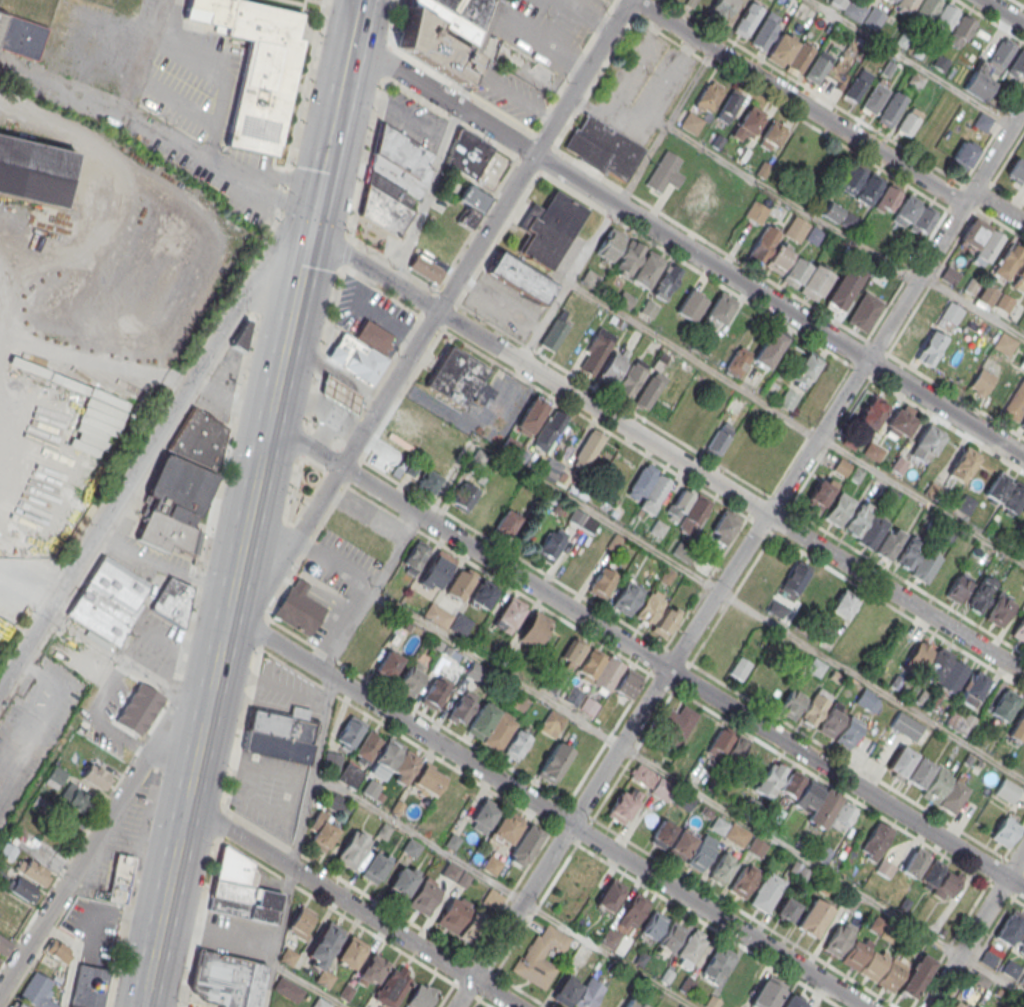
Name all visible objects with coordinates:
road: (1018, 3)
building: (907, 5)
building: (926, 9)
building: (720, 10)
building: (859, 12)
road: (1004, 12)
road: (590, 13)
building: (945, 19)
building: (747, 20)
road: (990, 20)
road: (356, 21)
building: (766, 30)
building: (961, 31)
building: (442, 33)
building: (20, 37)
road: (536, 38)
road: (487, 42)
building: (782, 48)
building: (505, 50)
building: (1001, 55)
building: (800, 59)
road: (909, 62)
building: (1017, 65)
building: (255, 66)
building: (818, 67)
road: (219, 68)
road: (581, 77)
building: (857, 85)
parking lot: (642, 87)
road: (466, 90)
building: (709, 96)
road: (514, 97)
road: (442, 98)
building: (874, 98)
building: (729, 106)
road: (116, 109)
building: (891, 109)
road: (196, 114)
road: (826, 119)
parking lot: (414, 120)
building: (908, 121)
building: (691, 122)
building: (982, 122)
road: (862, 123)
building: (749, 124)
building: (929, 133)
building: (772, 135)
building: (602, 147)
building: (467, 153)
building: (964, 154)
building: (1016, 170)
building: (33, 171)
building: (664, 172)
building: (851, 177)
building: (393, 180)
road: (906, 184)
building: (869, 189)
road: (116, 190)
building: (699, 195)
road: (428, 197)
building: (889, 197)
road: (791, 204)
building: (471, 205)
building: (833, 211)
building: (756, 212)
traffic signals: (315, 214)
building: (915, 215)
building: (549, 228)
building: (796, 229)
traffic signals: (311, 233)
building: (973, 234)
building: (763, 244)
building: (609, 245)
building: (989, 246)
building: (779, 257)
road: (946, 257)
building: (431, 258)
building: (628, 258)
building: (1009, 261)
building: (647, 270)
road: (374, 271)
traffic signals: (302, 273)
building: (950, 275)
building: (520, 278)
building: (806, 278)
building: (1019, 278)
building: (665, 282)
building: (843, 289)
building: (995, 298)
building: (624, 299)
road: (973, 304)
building: (691, 305)
road: (779, 305)
building: (648, 308)
building: (721, 309)
road: (438, 310)
building: (865, 311)
building: (951, 313)
road: (543, 321)
building: (554, 333)
road: (655, 334)
building: (240, 335)
building: (1005, 344)
building: (930, 347)
building: (361, 350)
building: (595, 352)
building: (757, 354)
building: (1022, 361)
road: (94, 362)
road: (319, 364)
building: (611, 369)
building: (806, 370)
building: (631, 378)
building: (459, 380)
building: (982, 382)
building: (651, 386)
building: (340, 395)
road: (342, 396)
road: (956, 396)
building: (788, 399)
building: (1015, 403)
road: (321, 407)
road: (337, 411)
building: (873, 411)
building: (531, 415)
building: (419, 416)
building: (901, 421)
building: (1022, 423)
building: (702, 428)
building: (549, 430)
road: (324, 432)
building: (719, 438)
building: (507, 444)
building: (926, 444)
road: (304, 445)
building: (587, 450)
building: (873, 451)
building: (963, 464)
road: (138, 465)
building: (898, 465)
building: (842, 466)
building: (1, 473)
building: (182, 482)
building: (428, 483)
building: (648, 489)
road: (730, 492)
building: (821, 492)
building: (1005, 492)
building: (16, 496)
building: (465, 497)
building: (965, 505)
building: (838, 509)
building: (688, 510)
building: (582, 520)
building: (507, 523)
road: (247, 524)
building: (865, 525)
building: (723, 528)
building: (889, 542)
building: (549, 547)
building: (909, 552)
road: (739, 555)
road: (283, 560)
building: (925, 565)
road: (162, 567)
road: (345, 569)
building: (436, 570)
road: (285, 577)
building: (941, 577)
building: (795, 579)
building: (602, 581)
building: (460, 584)
road: (709, 585)
road: (300, 586)
road: (27, 587)
building: (958, 587)
building: (980, 593)
building: (483, 594)
building: (627, 597)
building: (821, 598)
building: (108, 599)
building: (172, 601)
road: (326, 601)
building: (844, 604)
building: (298, 607)
building: (999, 610)
building: (509, 614)
building: (438, 615)
building: (657, 615)
building: (1019, 629)
building: (534, 630)
road: (347, 632)
road: (329, 639)
road: (457, 645)
building: (554, 645)
road: (701, 645)
building: (572, 654)
building: (927, 660)
building: (388, 665)
building: (815, 667)
building: (740, 668)
building: (609, 675)
building: (956, 677)
road: (150, 678)
building: (411, 678)
road: (682, 678)
building: (760, 678)
road: (271, 684)
building: (974, 688)
building: (435, 693)
building: (791, 703)
building: (1005, 704)
building: (816, 705)
road: (196, 707)
building: (460, 709)
building: (136, 711)
road: (76, 714)
building: (481, 721)
building: (960, 721)
building: (830, 722)
building: (552, 723)
building: (678, 725)
building: (906, 725)
building: (1017, 728)
building: (499, 732)
building: (349, 733)
building: (848, 733)
building: (279, 736)
building: (700, 736)
building: (516, 745)
building: (737, 749)
building: (386, 758)
building: (332, 761)
building: (901, 761)
building: (554, 762)
building: (920, 772)
building: (350, 775)
building: (94, 777)
building: (55, 778)
building: (772, 778)
building: (429, 781)
building: (651, 782)
building: (938, 783)
building: (1008, 790)
parking lot: (269, 792)
building: (955, 795)
building: (75, 798)
building: (811, 798)
building: (684, 801)
building: (622, 807)
road: (545, 810)
road: (375, 811)
building: (844, 815)
road: (107, 819)
building: (482, 819)
road: (302, 821)
building: (730, 831)
building: (1005, 831)
building: (504, 832)
building: (321, 833)
building: (662, 834)
building: (876, 840)
building: (525, 844)
building: (680, 846)
building: (756, 847)
building: (351, 849)
road: (790, 850)
building: (8, 851)
road: (39, 852)
building: (700, 856)
building: (916, 862)
building: (376, 864)
road: (666, 864)
road: (263, 865)
building: (491, 865)
building: (721, 867)
building: (33, 871)
building: (455, 874)
building: (118, 878)
building: (940, 878)
building: (403, 881)
building: (742, 881)
building: (22, 889)
building: (240, 889)
building: (766, 892)
building: (425, 896)
building: (608, 897)
building: (492, 899)
road: (350, 905)
building: (787, 909)
building: (633, 910)
building: (453, 913)
building: (813, 917)
building: (301, 922)
building: (7, 924)
building: (653, 925)
road: (708, 925)
building: (74, 926)
building: (1009, 927)
building: (475, 928)
road: (976, 929)
road: (219, 932)
parking lot: (236, 936)
building: (672, 936)
building: (839, 938)
building: (1020, 939)
building: (4, 945)
building: (323, 945)
building: (691, 947)
building: (57, 951)
building: (351, 952)
road: (609, 953)
building: (541, 955)
building: (854, 955)
road: (274, 956)
road: (72, 957)
building: (989, 958)
building: (0, 961)
building: (717, 962)
building: (871, 965)
building: (1011, 969)
building: (372, 970)
road: (992, 975)
building: (889, 976)
building: (917, 976)
building: (324, 977)
building: (739, 978)
building: (226, 979)
road: (508, 982)
road: (454, 983)
building: (393, 986)
building: (88, 987)
building: (288, 989)
building: (36, 991)
building: (587, 994)
building: (767, 994)
building: (421, 996)
building: (793, 1002)
building: (319, 1003)
road: (476, 1003)
building: (632, 1003)
building: (959, 1003)
building: (19, 1005)
road: (146, 1005)
building: (379, 1006)

